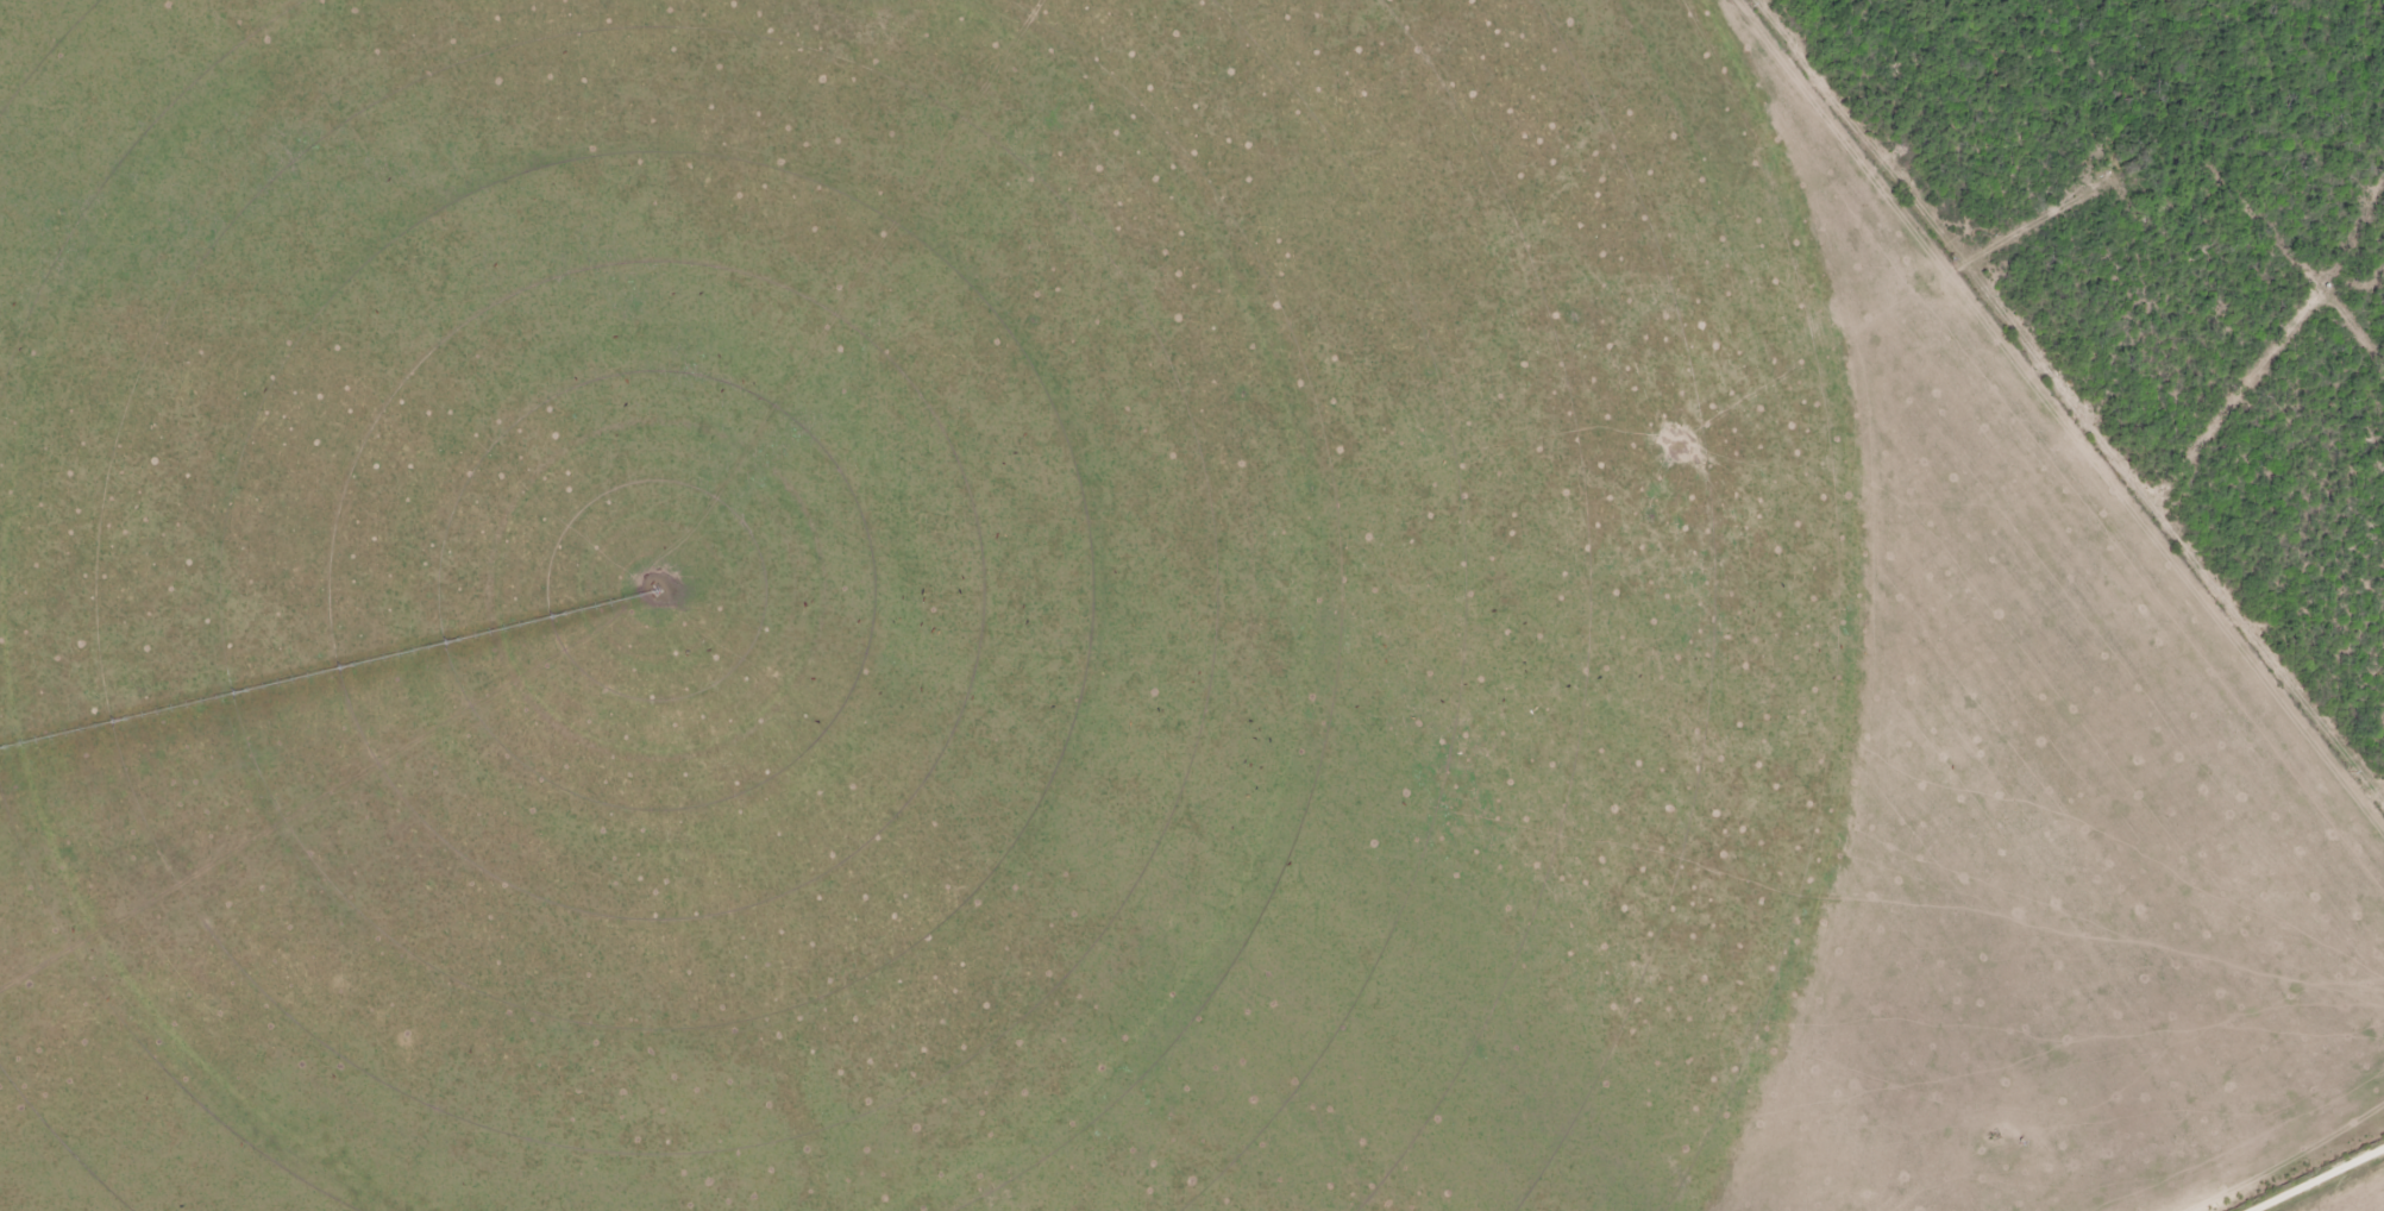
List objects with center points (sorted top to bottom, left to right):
road: (2320, 1180)

